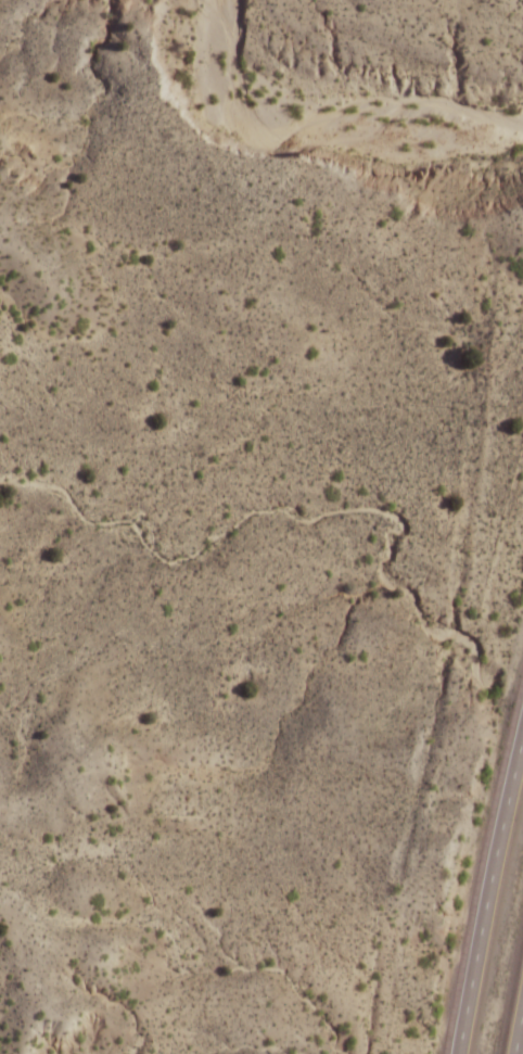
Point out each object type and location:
river: (316, 127)
road: (487, 899)
road: (519, 1033)

